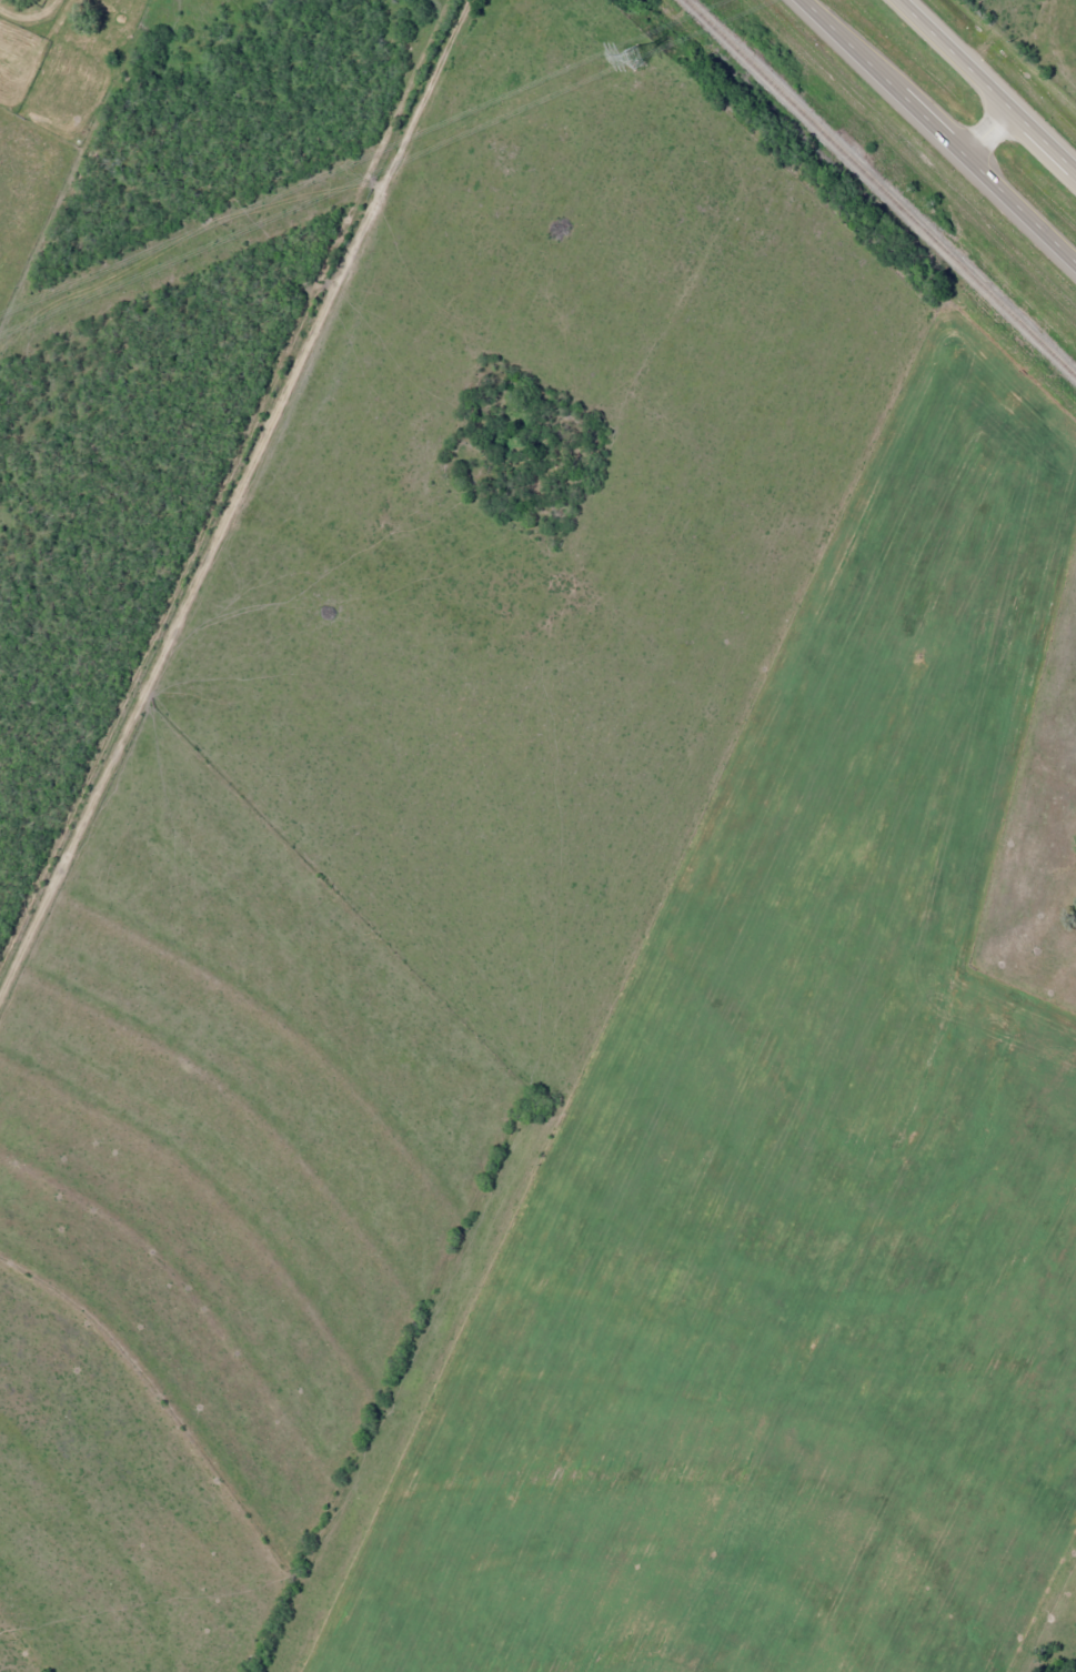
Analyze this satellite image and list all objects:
power tower: (630, 59)
road: (986, 84)
road: (938, 131)
road: (987, 132)
railway: (879, 190)
road: (232, 496)

